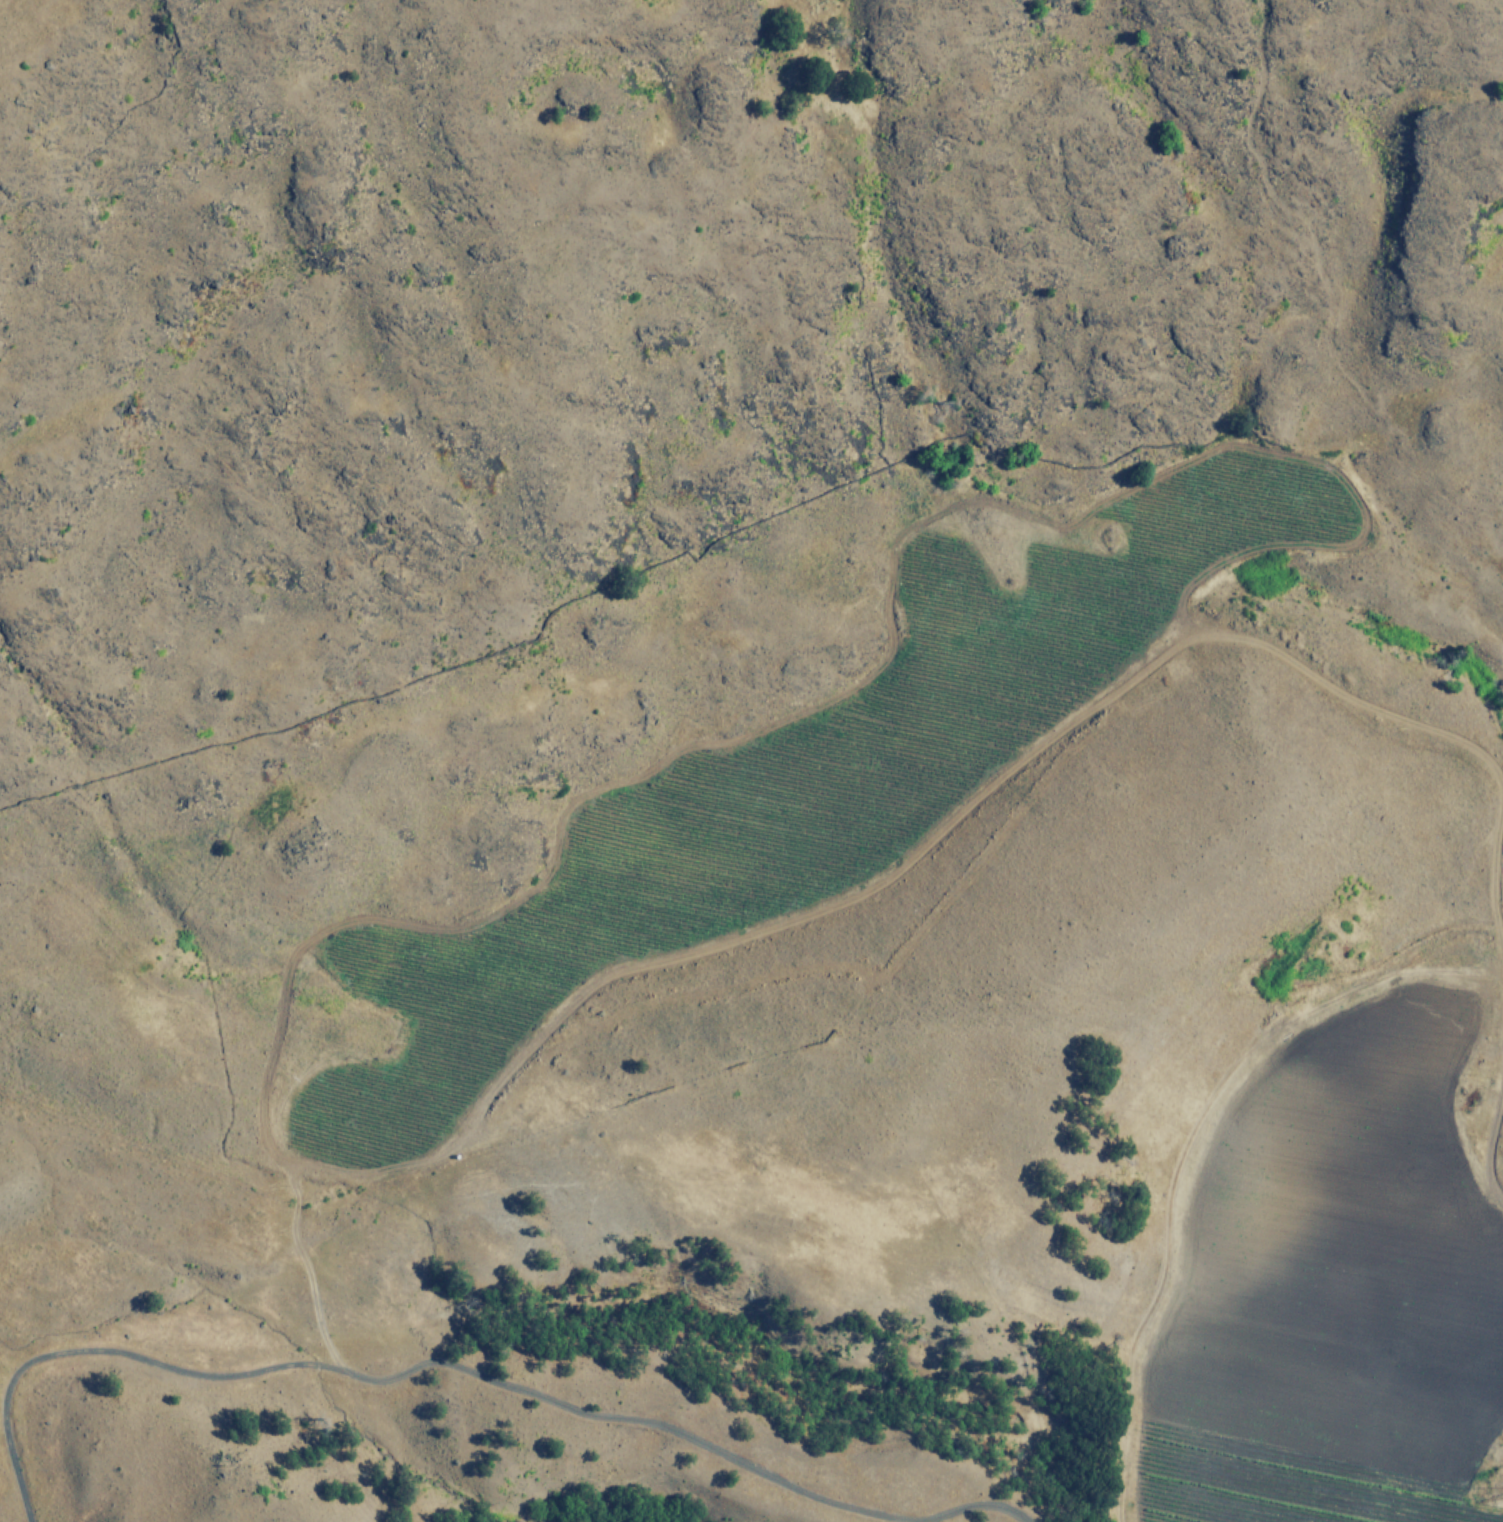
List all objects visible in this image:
road: (451, 1364)

